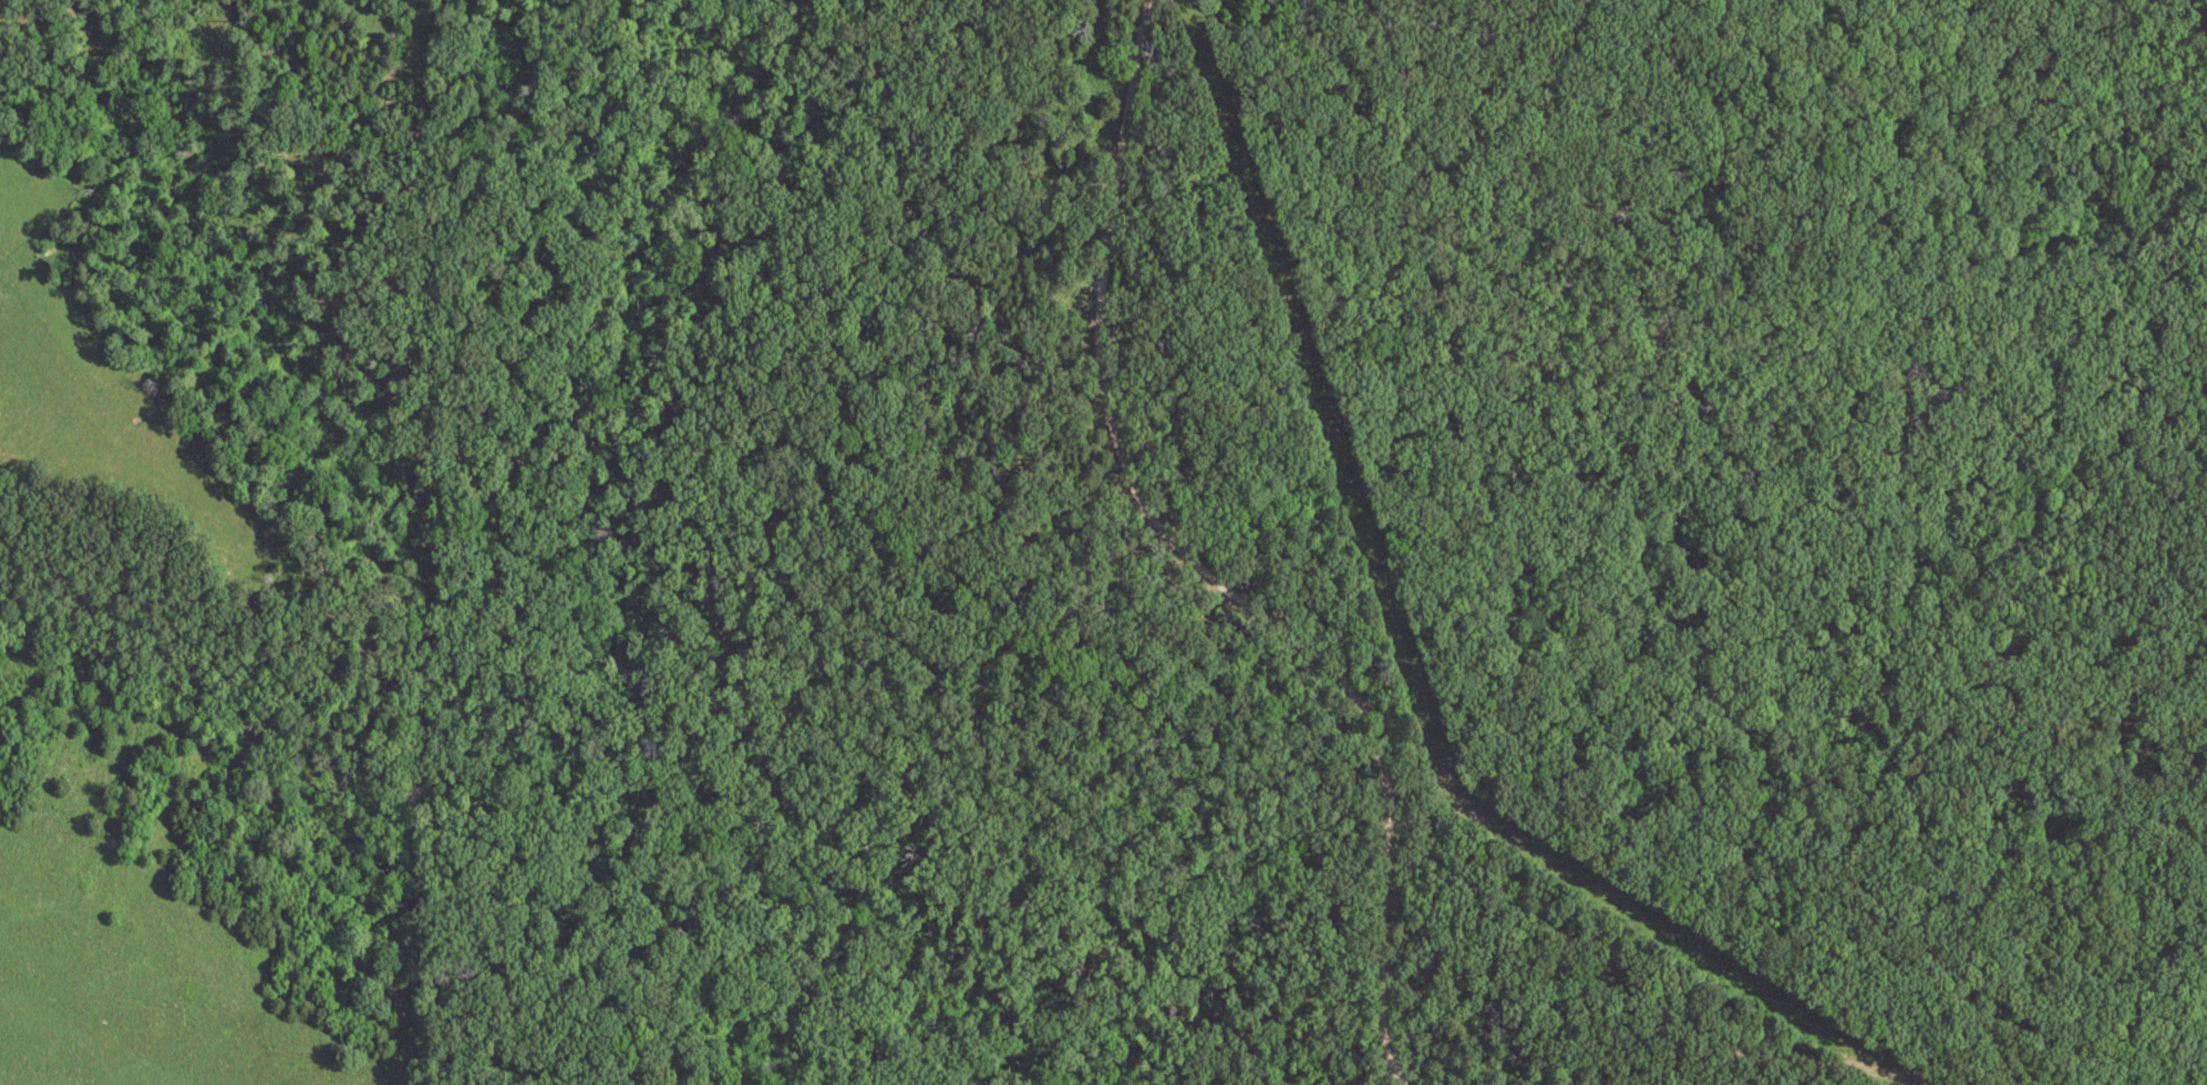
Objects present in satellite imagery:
road: (1198, 569)
road: (1671, 941)

